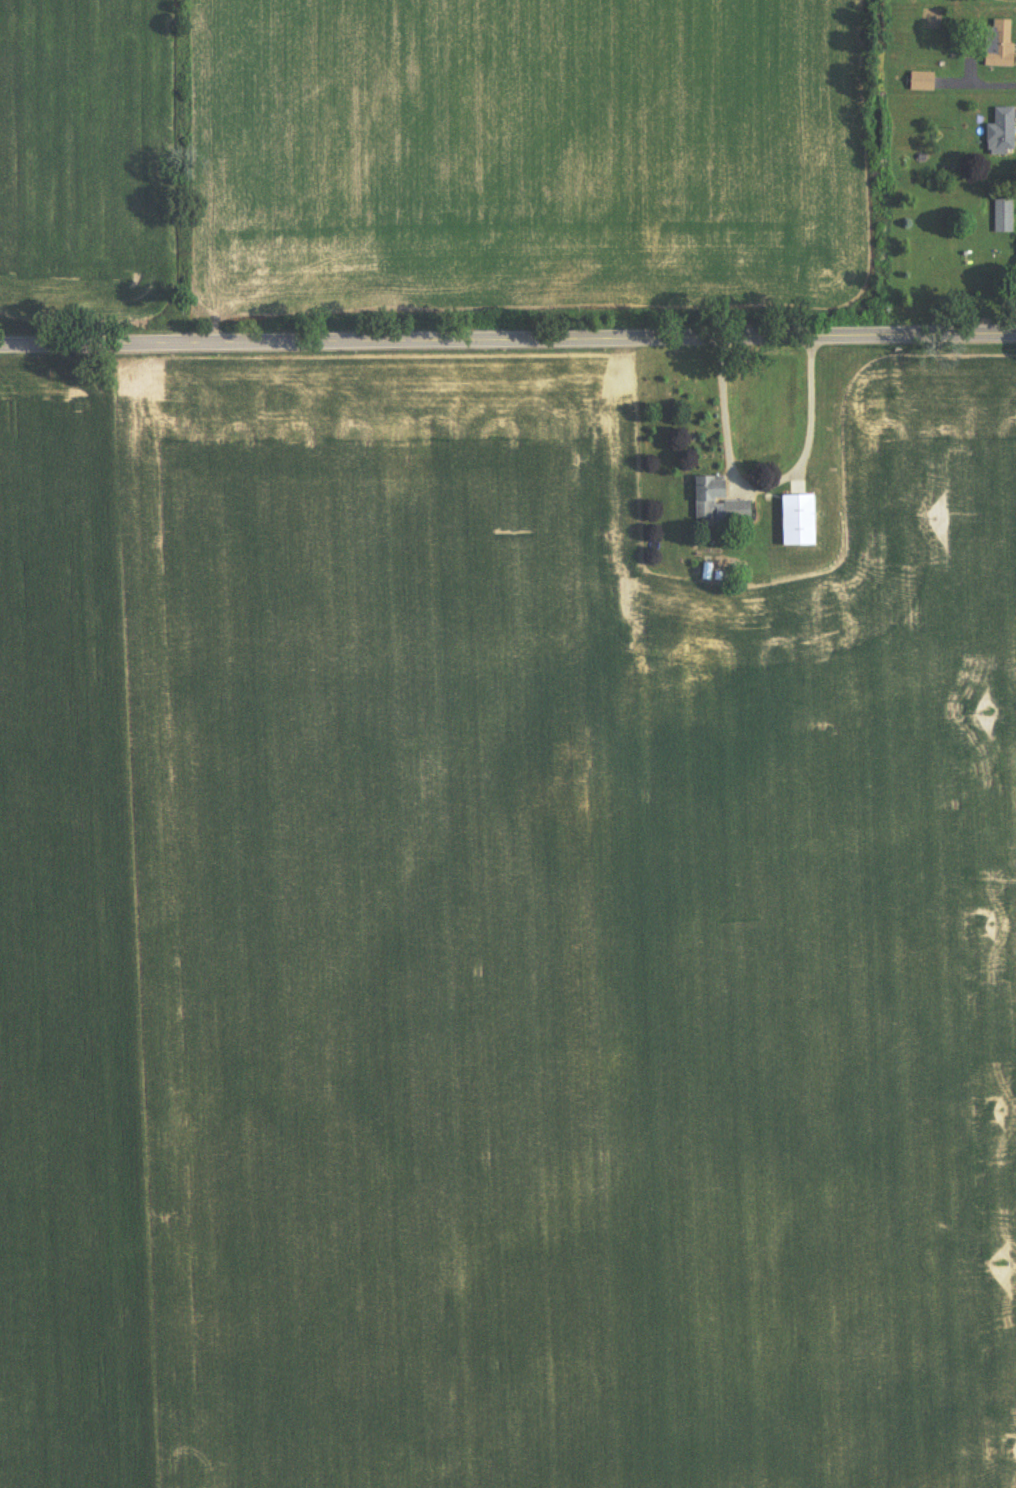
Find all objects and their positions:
building: (1000, 44)
road: (992, 78)
building: (923, 82)
building: (1003, 131)
crop: (435, 159)
building: (1004, 216)
road: (508, 322)
road: (761, 468)
building: (710, 496)
building: (739, 512)
building: (800, 521)

